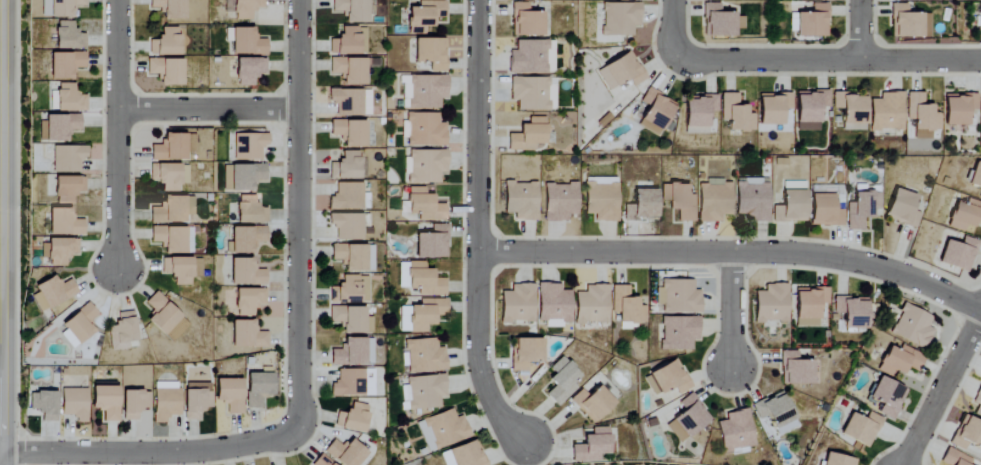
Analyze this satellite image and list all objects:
building: (822, 0)
building: (905, 0)
building: (980, 0)
building: (64, 7)
building: (169, 8)
building: (245, 8)
building: (351, 10)
building: (425, 13)
building: (620, 18)
building: (525, 20)
building: (979, 21)
building: (813, 22)
building: (908, 23)
road: (859, 30)
building: (418, 31)
road: (673, 34)
building: (67, 37)
building: (349, 41)
building: (165, 42)
building: (246, 42)
building: (430, 53)
building: (530, 57)
road: (835, 61)
building: (64, 65)
building: (248, 70)
building: (348, 70)
building: (165, 71)
building: (621, 72)
building: (424, 91)
building: (532, 93)
building: (68, 98)
building: (350, 102)
building: (773, 108)
building: (958, 108)
road: (208, 109)
building: (850, 109)
building: (809, 110)
building: (655, 112)
building: (886, 112)
building: (735, 113)
building: (698, 114)
building: (921, 116)
building: (59, 126)
building: (423, 129)
building: (349, 132)
building: (528, 135)
road: (117, 137)
building: (248, 146)
building: (172, 148)
building: (67, 158)
building: (424, 166)
building: (347, 167)
building: (169, 176)
building: (976, 176)
building: (242, 177)
building: (67, 189)
building: (980, 196)
building: (346, 197)
building: (601, 198)
building: (752, 199)
building: (521, 201)
building: (560, 201)
building: (679, 201)
building: (714, 201)
building: (424, 205)
building: (641, 206)
building: (790, 207)
building: (902, 208)
building: (861, 209)
building: (172, 210)
building: (249, 211)
building: (824, 211)
road: (299, 212)
building: (965, 215)
building: (63, 223)
building: (347, 226)
road: (476, 230)
road: (2, 232)
building: (246, 238)
building: (169, 239)
building: (432, 243)
building: (58, 251)
road: (733, 251)
building: (959, 254)
building: (354, 257)
building: (178, 270)
building: (245, 273)
building: (402, 275)
building: (424, 280)
building: (350, 290)
building: (52, 292)
building: (678, 297)
building: (248, 301)
building: (517, 304)
building: (771, 304)
building: (553, 305)
building: (592, 305)
building: (809, 305)
building: (626, 306)
building: (851, 311)
road: (730, 312)
building: (421, 315)
building: (165, 318)
building: (351, 320)
building: (79, 324)
building: (913, 327)
building: (122, 332)
building: (678, 333)
building: (247, 335)
building: (353, 353)
building: (525, 354)
building: (423, 356)
building: (900, 361)
building: (795, 370)
building: (667, 379)
building: (561, 382)
building: (369, 383)
building: (348, 384)
building: (257, 389)
road: (942, 389)
building: (423, 392)
building: (229, 394)
building: (888, 397)
building: (195, 400)
building: (164, 401)
building: (105, 402)
building: (592, 403)
building: (978, 403)
building: (74, 404)
building: (133, 404)
building: (43, 405)
building: (776, 413)
building: (352, 418)
building: (687, 419)
building: (861, 429)
building: (442, 430)
building: (735, 431)
building: (967, 434)
building: (591, 446)
road: (153, 453)
building: (345, 453)
building: (466, 455)
building: (955, 458)
building: (838, 460)
building: (321, 461)

